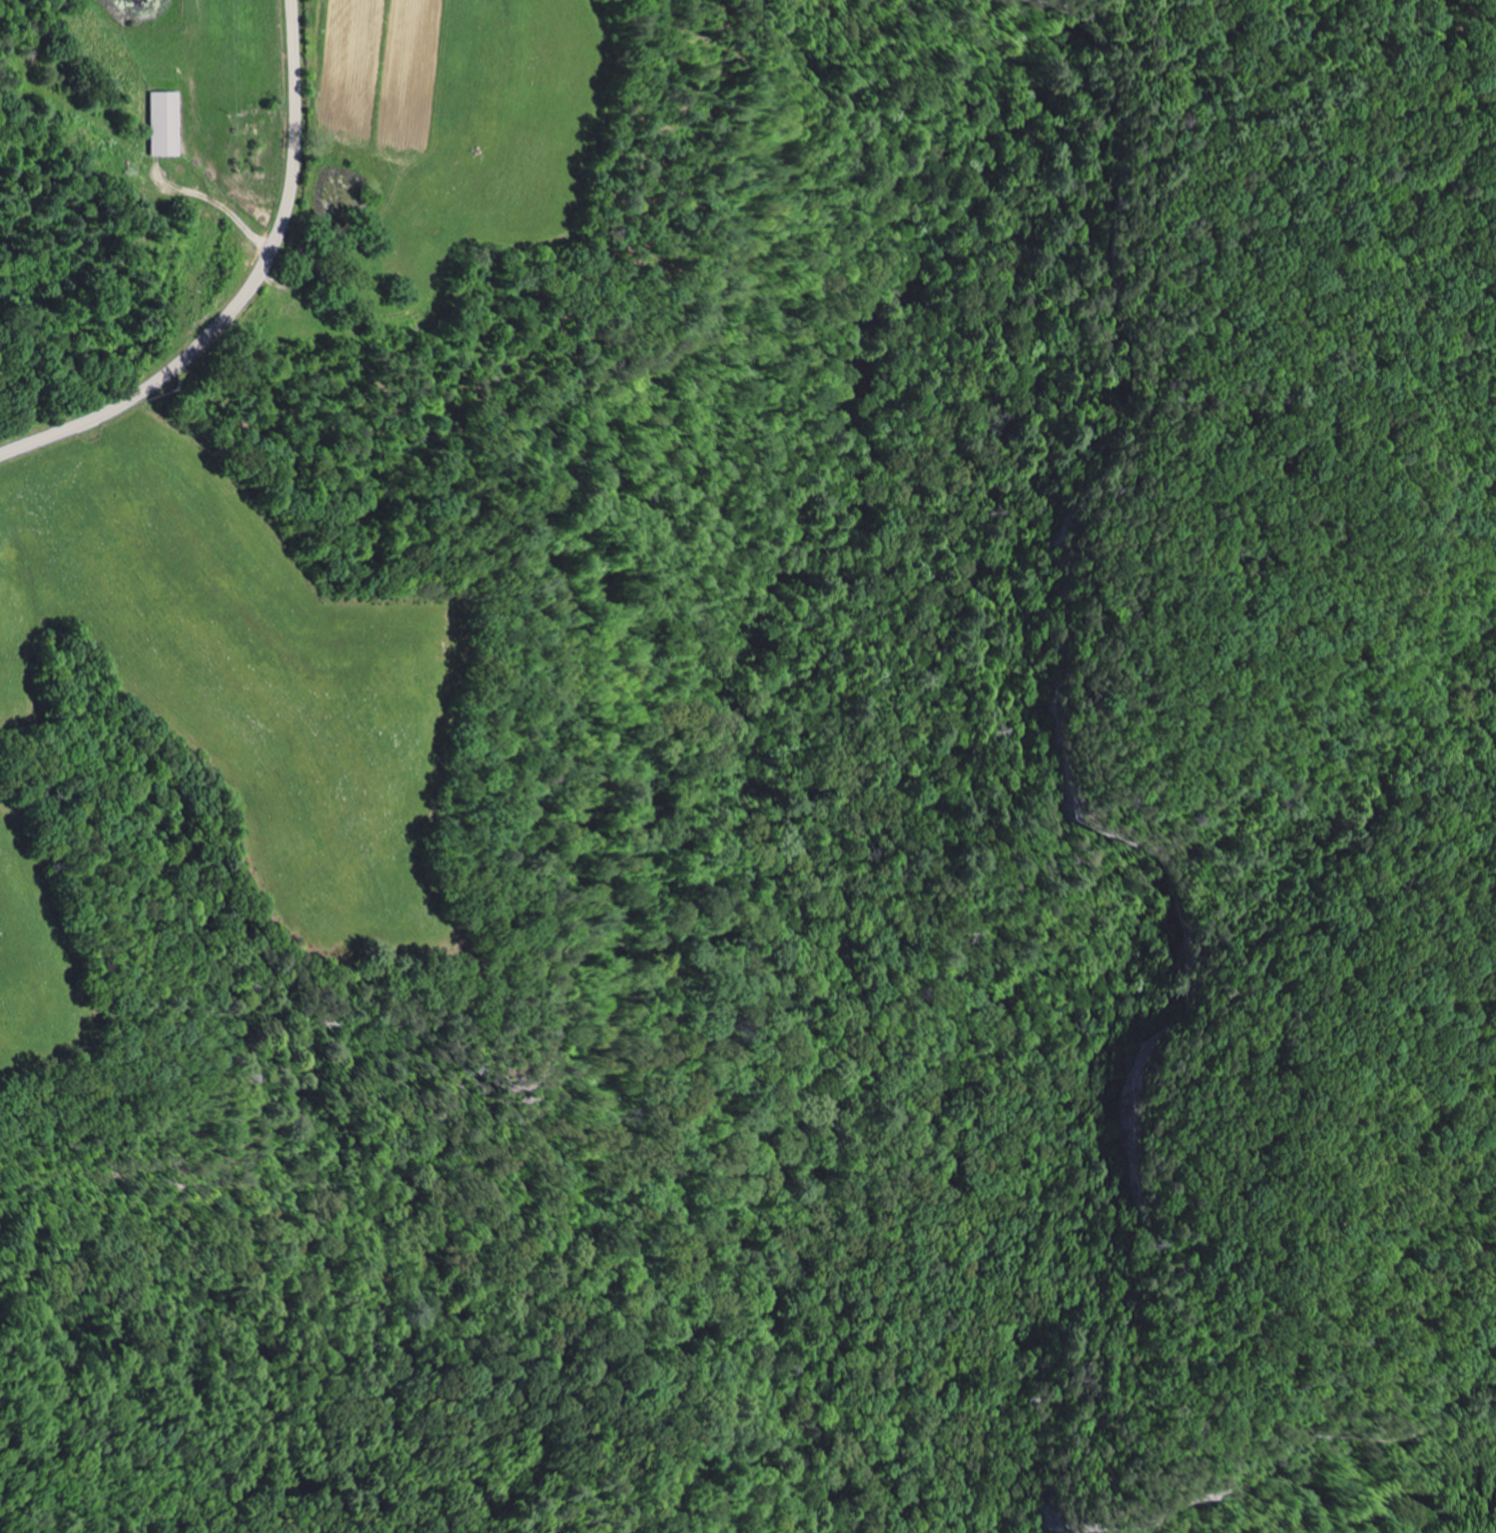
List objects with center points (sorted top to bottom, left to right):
building: (167, 125)
road: (246, 291)

